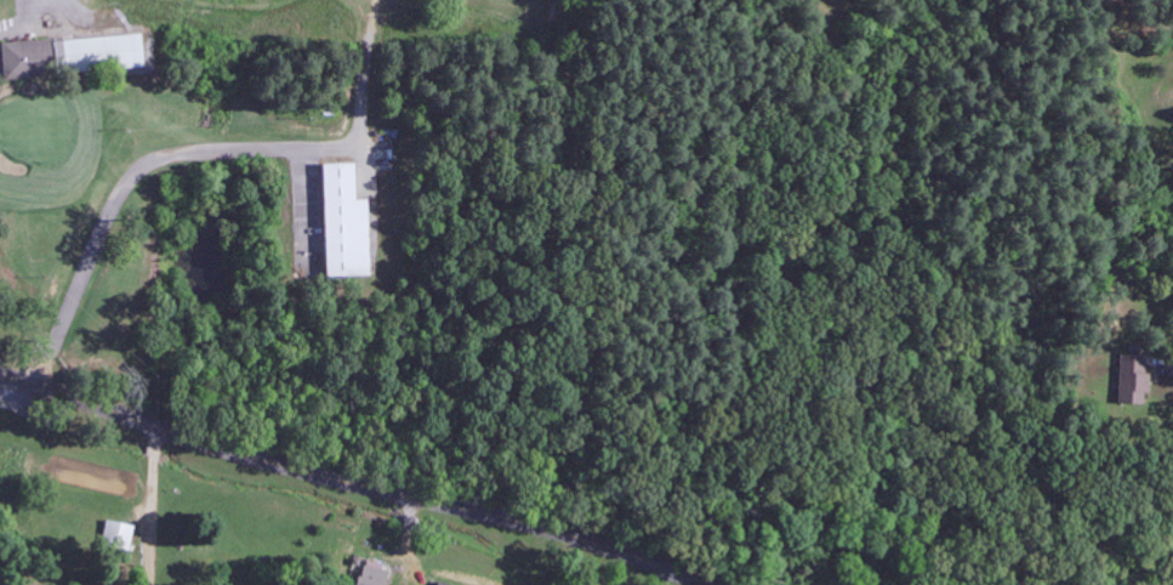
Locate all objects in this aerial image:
building: (106, 53)
building: (32, 59)
building: (345, 223)
building: (1128, 379)
road: (533, 442)
road: (197, 445)
road: (357, 483)
road: (392, 498)
building: (120, 535)
building: (375, 574)

